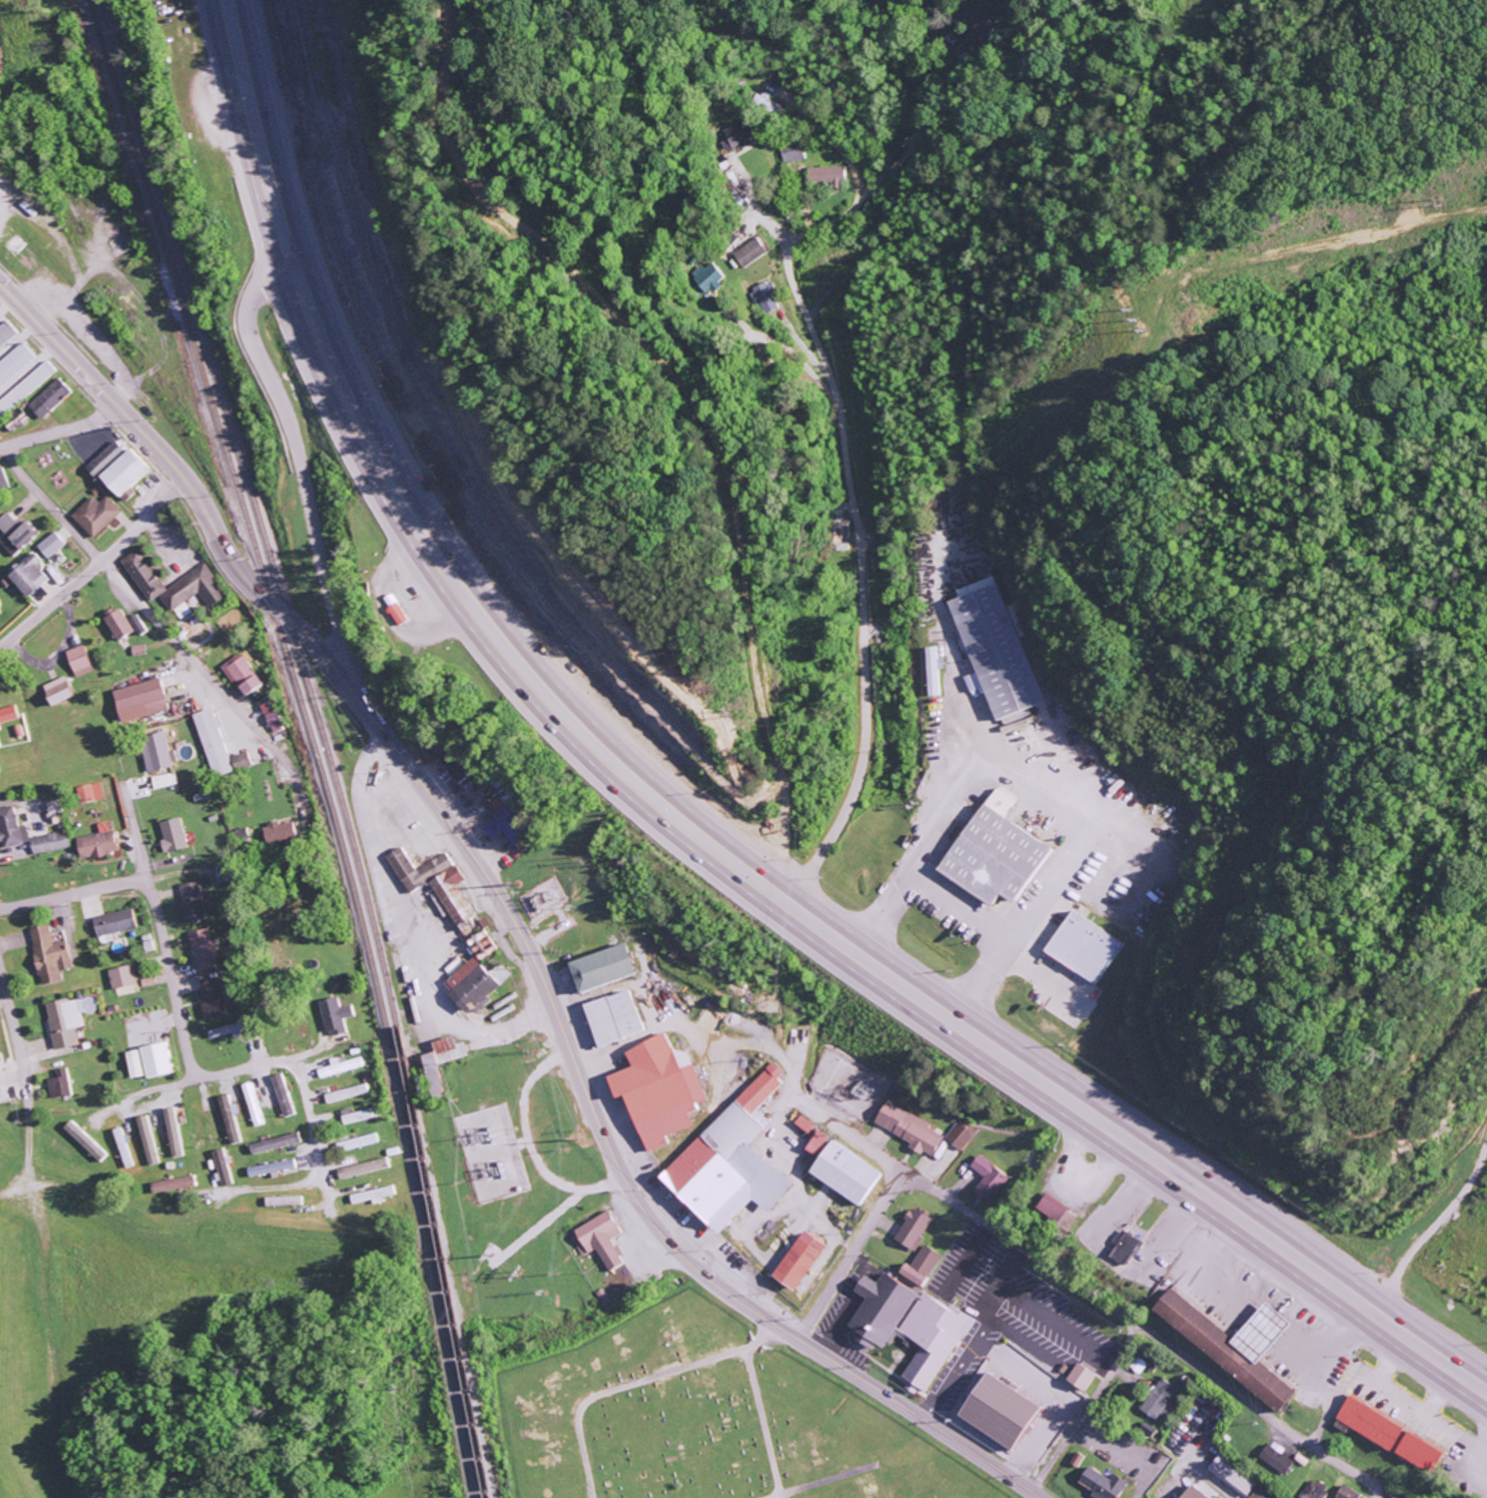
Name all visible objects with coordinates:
road: (915, 134)
building: (735, 136)
building: (792, 152)
building: (826, 176)
building: (748, 252)
building: (706, 277)
building: (764, 296)
building: (5, 332)
building: (14, 362)
building: (25, 388)
building: (48, 398)
road: (59, 431)
road: (297, 452)
building: (116, 470)
building: (2, 480)
building: (95, 515)
road: (857, 531)
building: (15, 533)
building: (50, 545)
road: (95, 565)
building: (27, 575)
building: (172, 585)
building: (400, 613)
road: (157, 623)
building: (116, 624)
building: (135, 624)
building: (994, 648)
building: (77, 661)
building: (933, 671)
building: (240, 673)
building: (55, 691)
building: (138, 700)
building: (8, 714)
building: (270, 716)
building: (211, 742)
railway: (311, 742)
building: (154, 754)
building: (239, 760)
building: (453, 764)
building: (163, 780)
building: (89, 793)
road: (701, 817)
building: (505, 826)
building: (11, 828)
building: (277, 833)
building: (170, 835)
road: (679, 841)
building: (49, 842)
building: (96, 844)
building: (997, 855)
building: (435, 886)
building: (191, 902)
road: (157, 912)
road: (506, 912)
building: (113, 922)
building: (1082, 947)
building: (202, 949)
building: (49, 955)
building: (601, 966)
building: (121, 977)
building: (474, 984)
building: (211, 997)
building: (612, 1013)
building: (332, 1016)
building: (63, 1022)
building: (223, 1031)
road: (17, 1036)
building: (155, 1060)
road: (282, 1060)
building: (439, 1062)
building: (133, 1064)
building: (339, 1066)
building: (0, 1073)
building: (59, 1084)
building: (660, 1087)
building: (346, 1093)
building: (282, 1095)
building: (253, 1104)
building: (355, 1115)
building: (230, 1120)
building: (907, 1128)
building: (172, 1132)
building: (957, 1136)
building: (84, 1140)
building: (148, 1140)
building: (357, 1142)
building: (274, 1143)
building: (124, 1147)
building: (728, 1161)
building: (837, 1166)
building: (222, 1168)
building: (271, 1168)
building: (361, 1168)
building: (987, 1180)
building: (173, 1185)
road: (263, 1186)
building: (372, 1194)
park: (533, 1194)
building: (284, 1201)
building: (1056, 1212)
road: (1437, 1222)
building: (911, 1229)
building: (600, 1239)
building: (1123, 1249)
road: (850, 1252)
building: (797, 1261)
building: (919, 1266)
road: (1106, 1305)
building: (905, 1328)
building: (1231, 1345)
building: (1078, 1377)
road: (635, 1380)
building: (1157, 1398)
road: (1083, 1409)
building: (997, 1411)
park: (697, 1417)
building: (1388, 1435)
building: (1075, 1460)
building: (1275, 1460)
road: (860, 1469)
building: (1230, 1475)
building: (1100, 1484)
building: (1313, 1491)
building: (1190, 1493)
building: (1260, 1493)
building: (1345, 1493)
road: (1035, 1495)
building: (1392, 1497)

